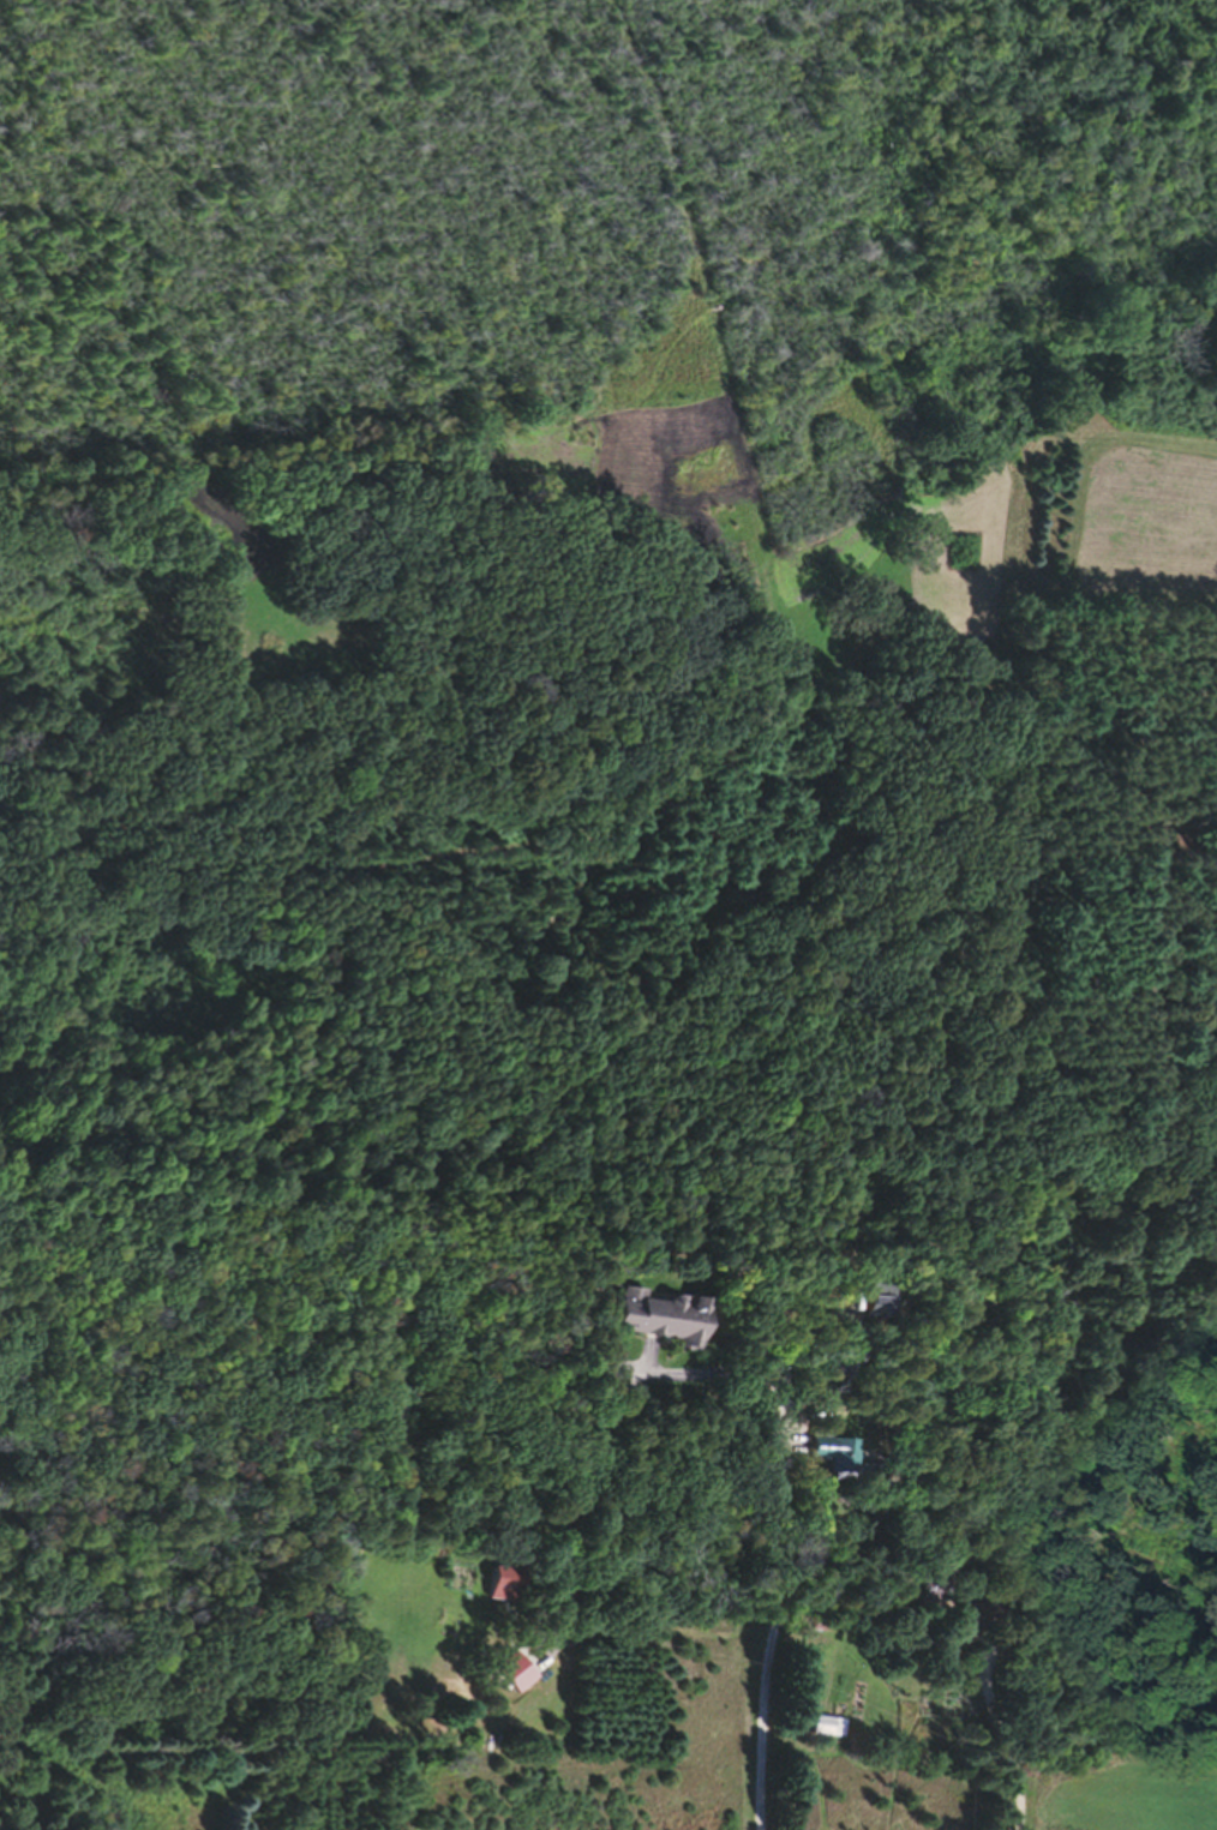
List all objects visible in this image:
building: (654, 1328)
road: (774, 1554)
building: (498, 1592)
building: (512, 1681)
road: (995, 1734)
building: (816, 1736)

